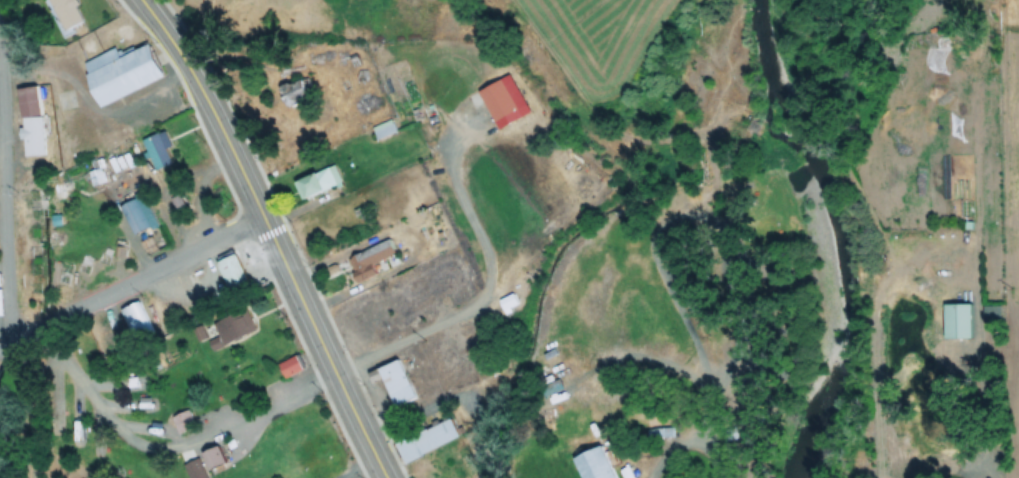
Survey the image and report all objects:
building: (68, 11)
building: (126, 73)
building: (497, 100)
building: (288, 101)
road: (212, 104)
building: (28, 123)
building: (381, 132)
building: (159, 149)
road: (5, 180)
building: (315, 184)
building: (748, 187)
building: (960, 212)
building: (139, 215)
river: (835, 236)
building: (370, 263)
building: (235, 272)
road: (138, 278)
road: (486, 280)
building: (504, 305)
building: (235, 323)
building: (136, 325)
building: (951, 325)
building: (205, 329)
building: (216, 340)
road: (5, 343)
road: (326, 348)
building: (292, 366)
building: (398, 383)
building: (549, 387)
building: (186, 420)
building: (429, 441)
building: (205, 463)
building: (598, 464)

